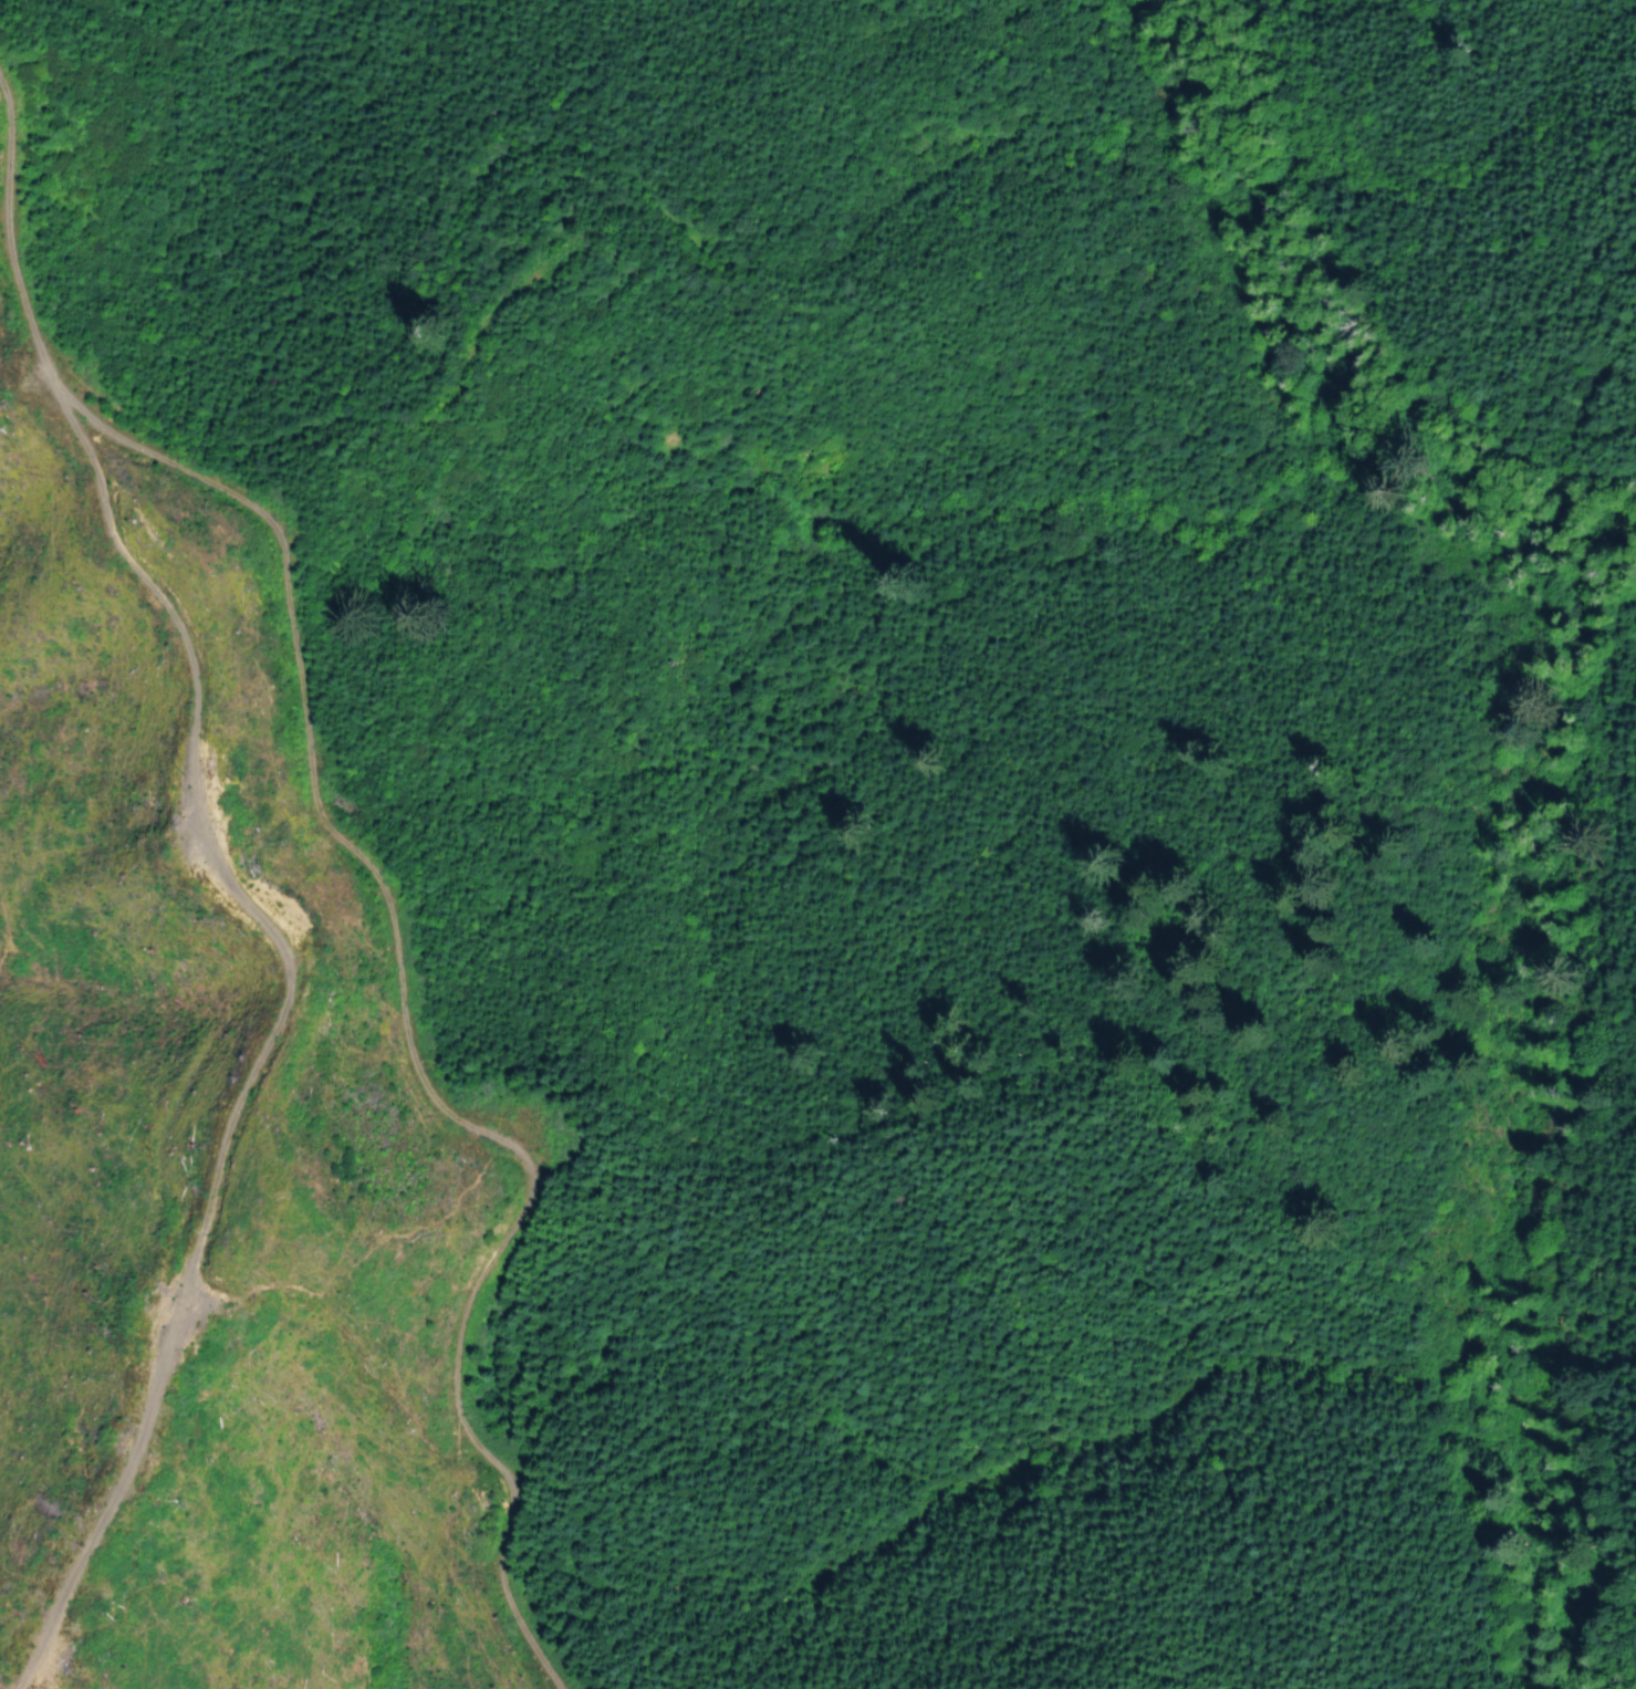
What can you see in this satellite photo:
road: (348, 841)
road: (274, 1043)

